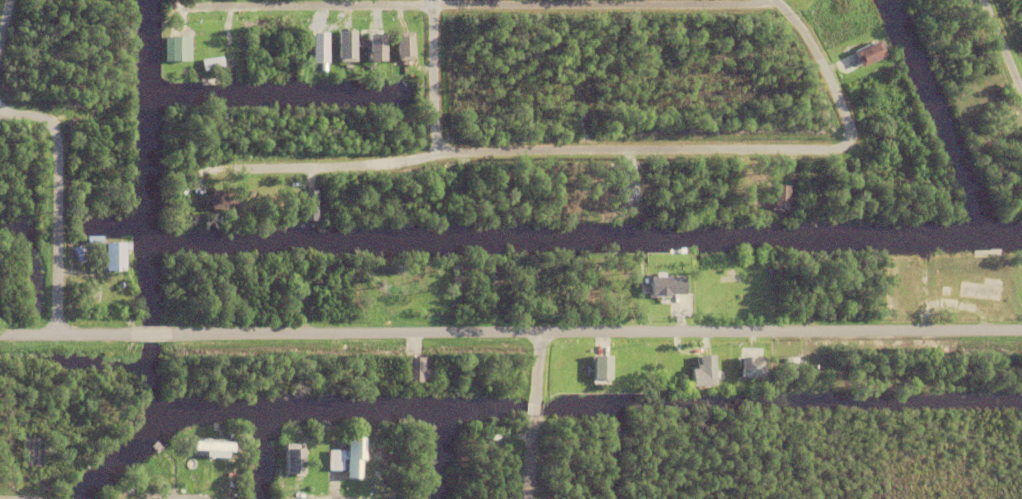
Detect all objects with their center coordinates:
road: (470, 6)
road: (3, 15)
building: (238, 35)
building: (285, 39)
building: (267, 43)
building: (347, 45)
building: (406, 45)
building: (321, 46)
building: (378, 46)
building: (213, 49)
building: (175, 51)
road: (998, 54)
building: (869, 56)
building: (213, 66)
road: (430, 79)
road: (823, 86)
road: (28, 116)
building: (907, 126)
building: (27, 149)
road: (519, 151)
building: (33, 174)
building: (775, 174)
building: (839, 175)
building: (294, 191)
building: (779, 198)
building: (195, 200)
building: (222, 203)
building: (308, 209)
building: (760, 210)
road: (55, 229)
building: (113, 260)
building: (665, 288)
building: (945, 293)
building: (297, 304)
building: (948, 308)
road: (594, 333)
road: (27, 334)
road: (90, 334)
road: (146, 334)
building: (792, 363)
building: (754, 366)
building: (417, 370)
building: (600, 371)
building: (702, 375)
road: (534, 416)
building: (219, 443)
building: (353, 452)
building: (166, 455)
building: (334, 455)
building: (296, 460)
building: (206, 464)
building: (154, 469)
building: (141, 483)
road: (173, 498)
road: (187, 498)

